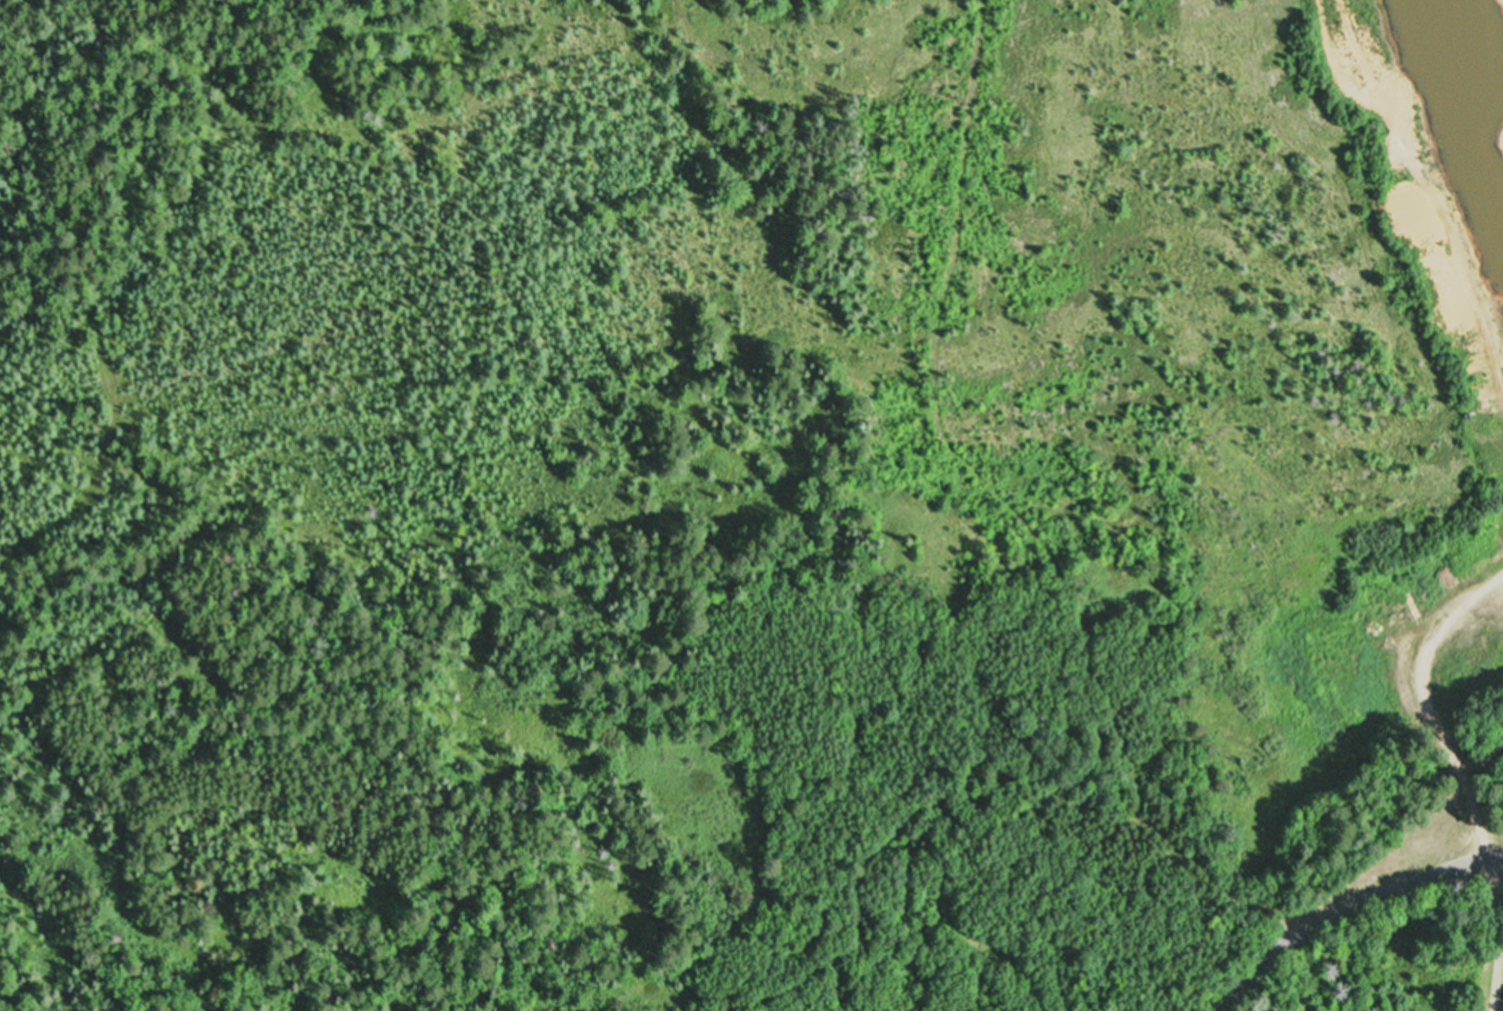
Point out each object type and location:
road: (1346, 898)

